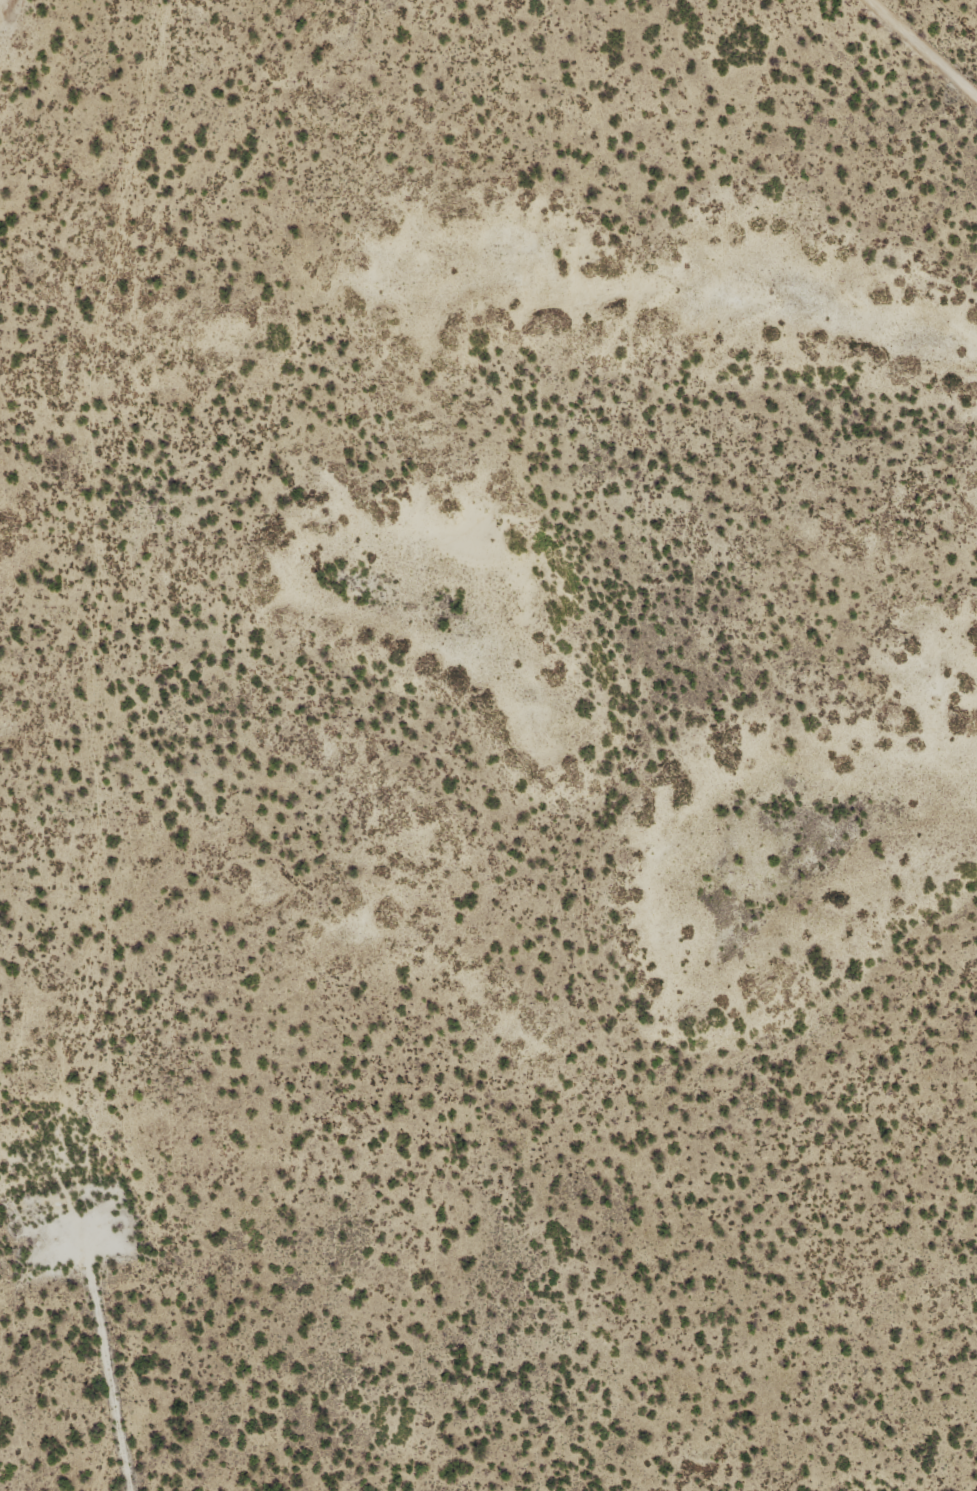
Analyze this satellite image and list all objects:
road: (923, 48)

